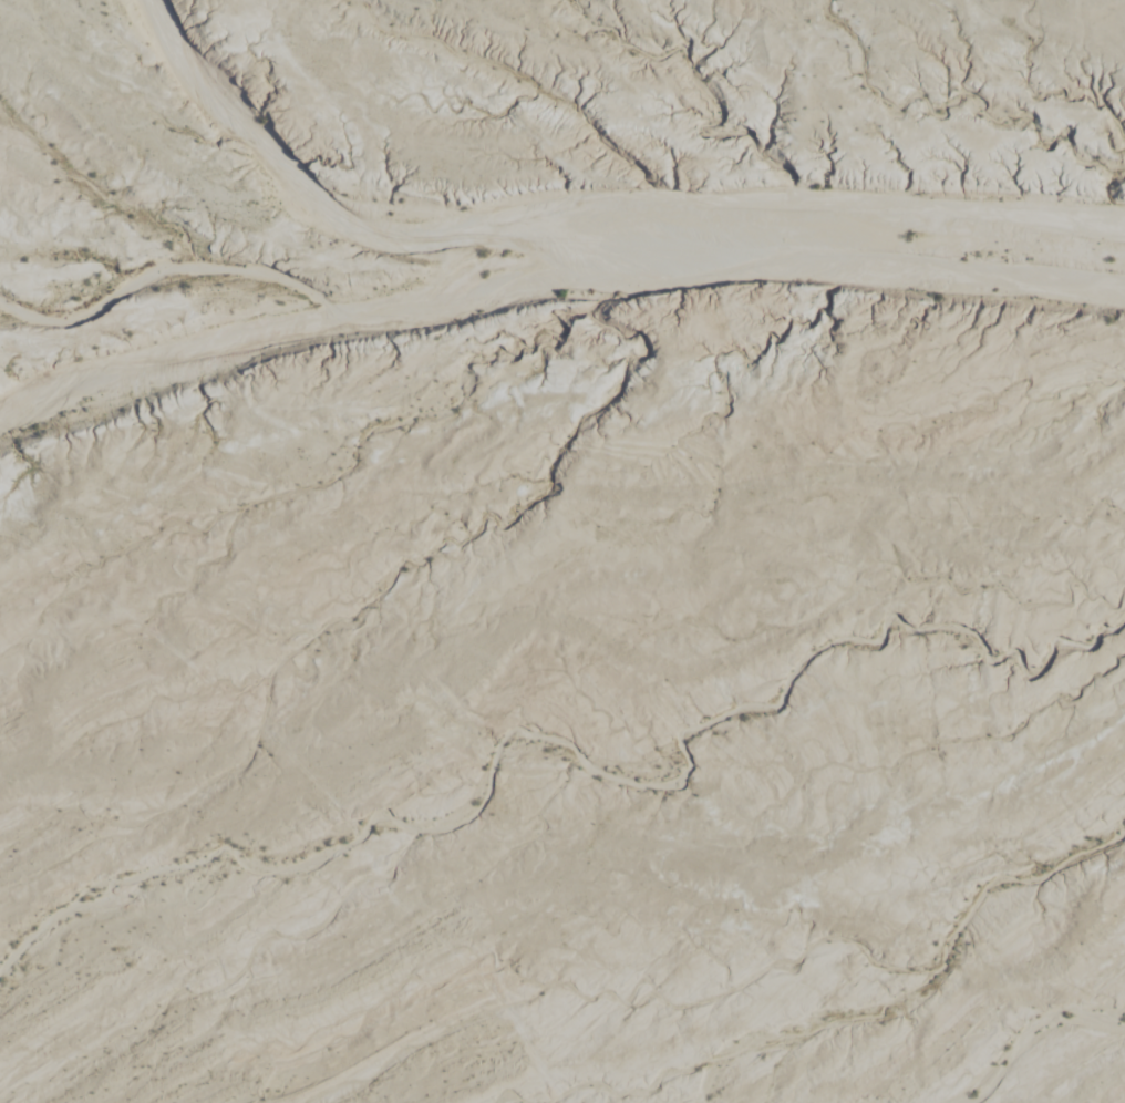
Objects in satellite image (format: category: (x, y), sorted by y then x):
road: (584, 238)

